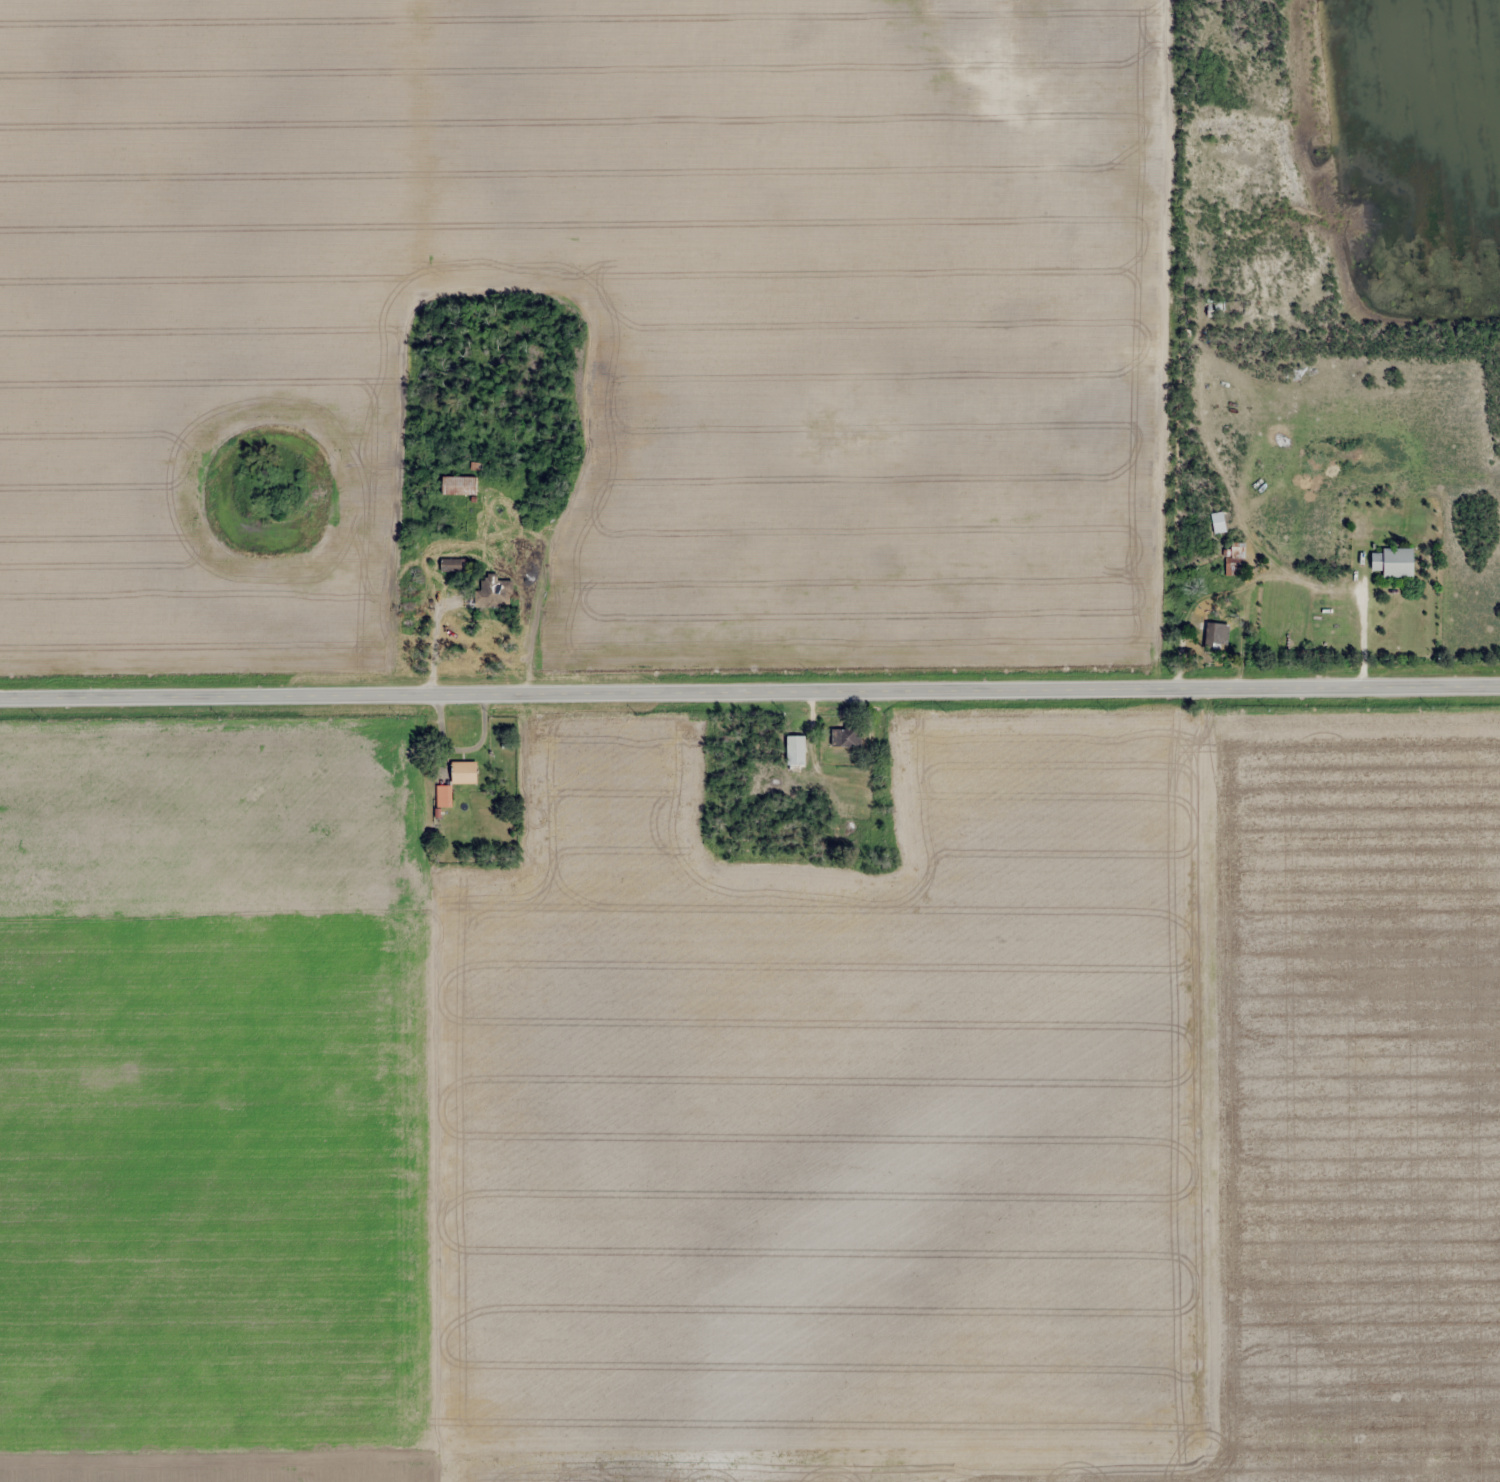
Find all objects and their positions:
building: (1214, 308)
building: (459, 485)
building: (1234, 556)
building: (1394, 562)
building: (455, 564)
building: (493, 592)
building: (1216, 636)
road: (749, 689)
building: (846, 736)
road: (1169, 741)
building: (796, 753)
building: (464, 772)
building: (443, 795)

